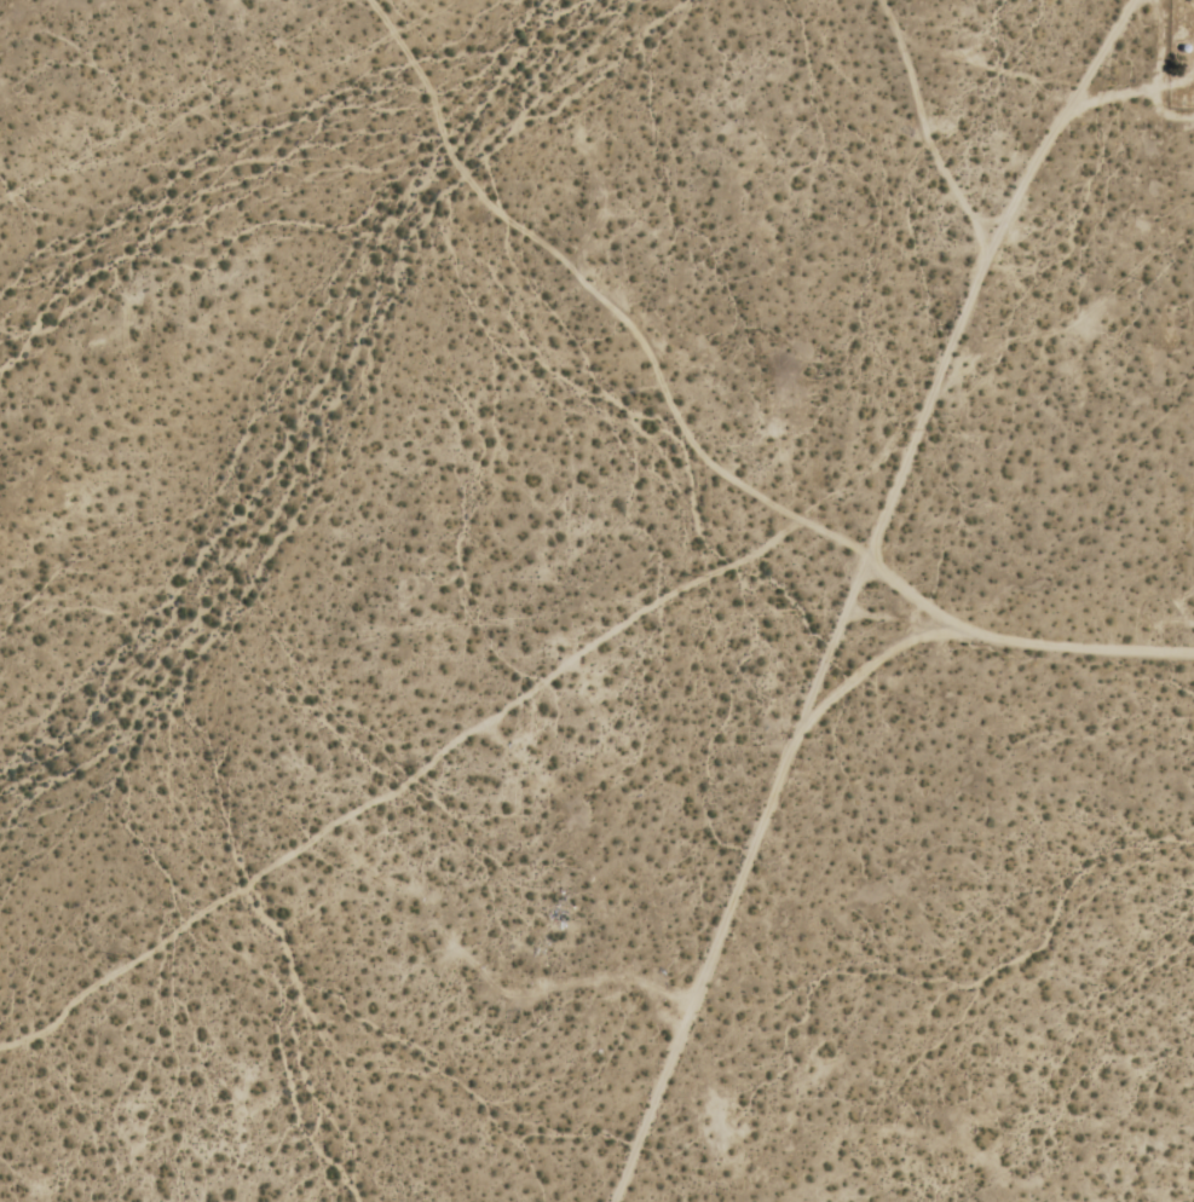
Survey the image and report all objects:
road: (1061, 636)

